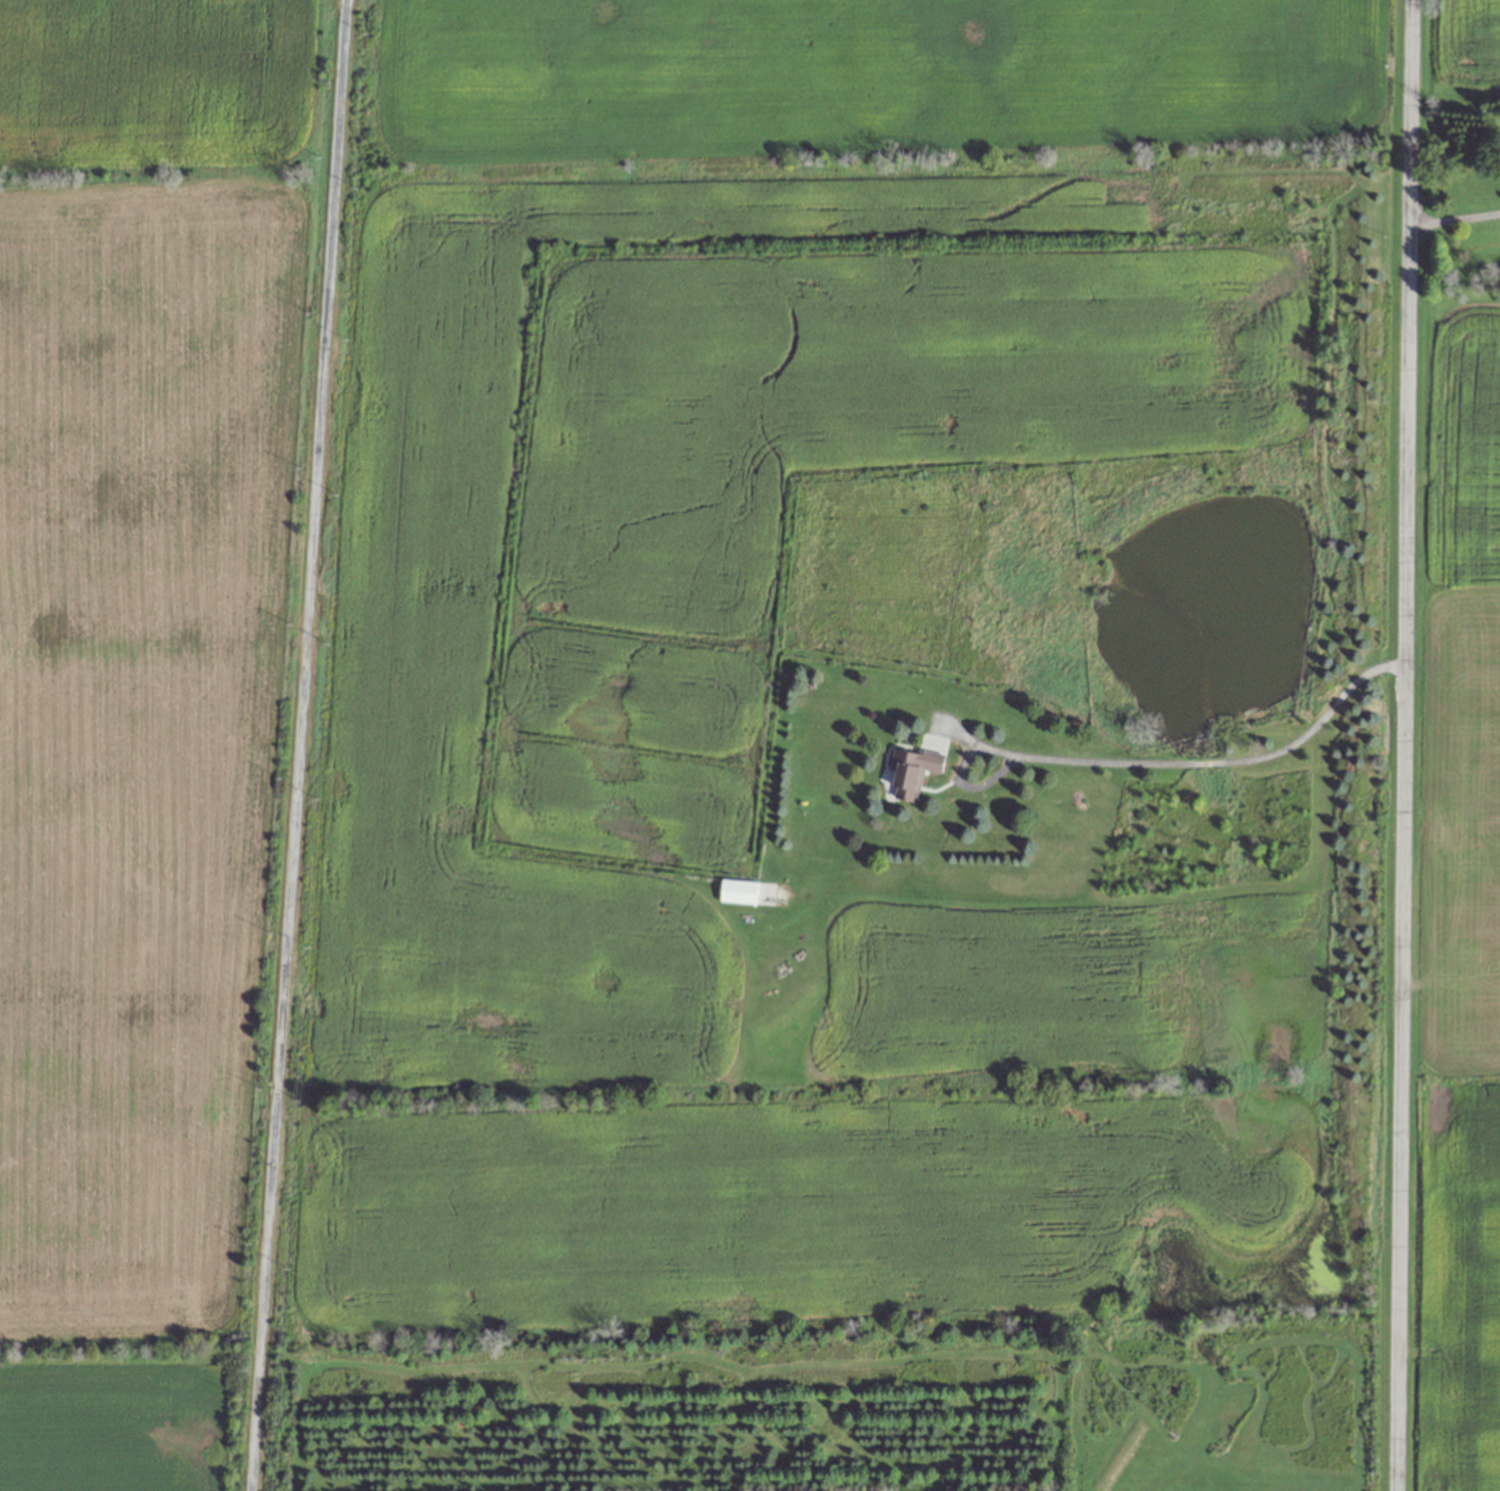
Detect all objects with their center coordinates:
crop: (1459, 51)
road: (1453, 218)
road: (295, 745)
road: (1397, 745)
road: (1147, 759)
building: (912, 772)
building: (737, 891)
crop: (1454, 906)

